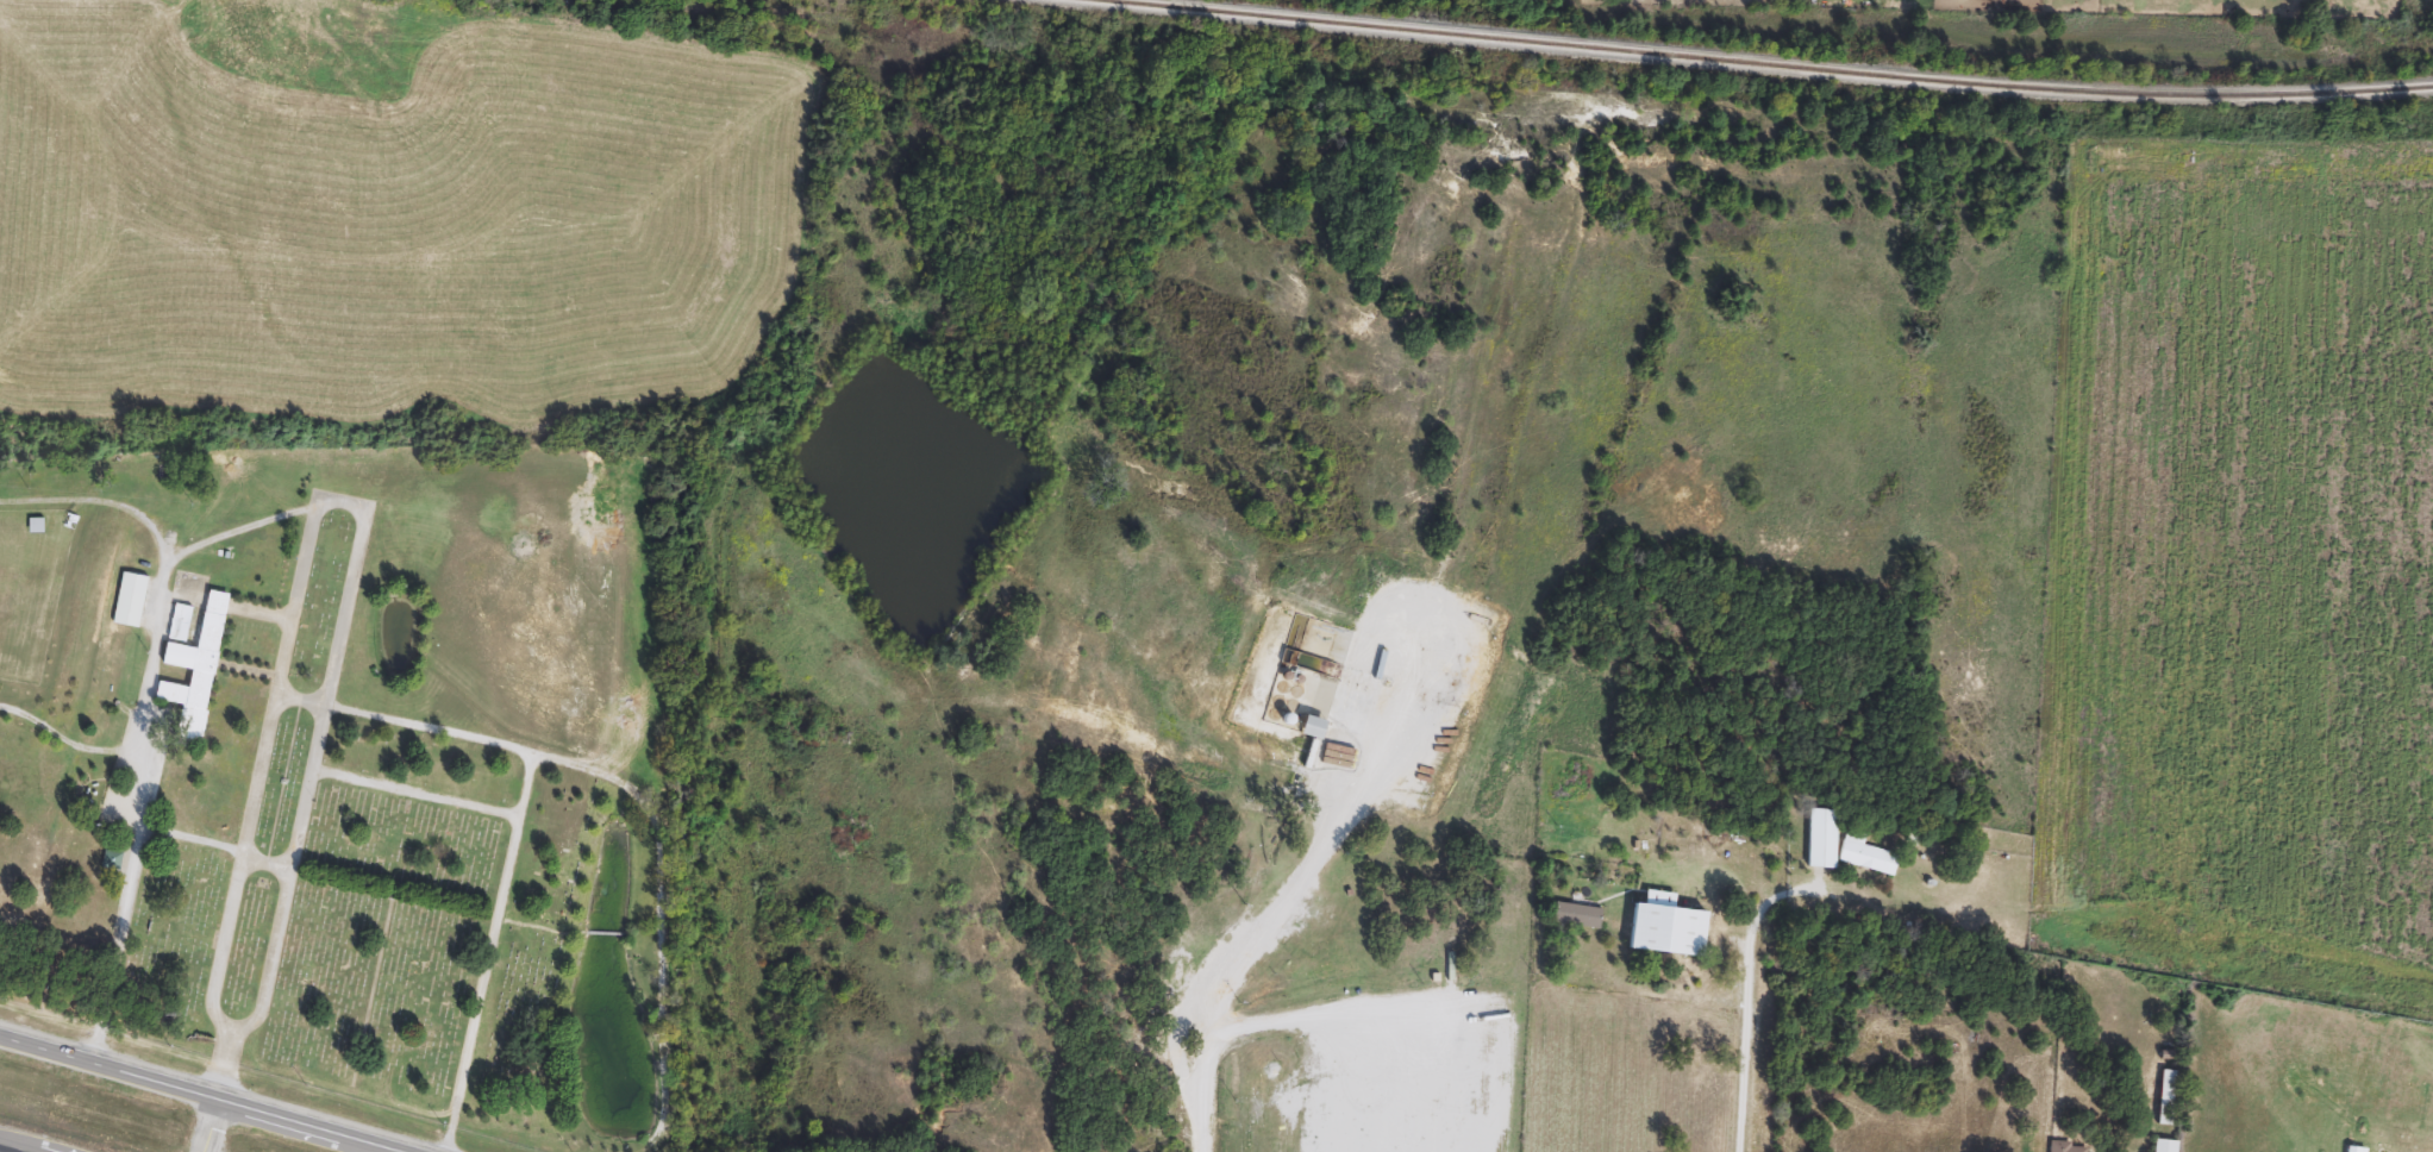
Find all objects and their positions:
railway: (1756, 63)
road: (95, 502)
road: (338, 502)
building: (39, 526)
building: (132, 600)
building: (1478, 651)
building: (199, 663)
building: (1309, 727)
road: (143, 733)
road: (67, 743)
park: (358, 762)
road: (630, 787)
road: (417, 794)
road: (192, 839)
building: (1821, 840)
building: (1864, 856)
building: (113, 860)
road: (267, 864)
building: (1575, 916)
building: (1664, 931)
road: (490, 952)
road: (1241, 970)
road: (1747, 994)
road: (225, 1064)
road: (198, 1095)
building: (2165, 1097)
road: (211, 1126)
building: (2163, 1146)

